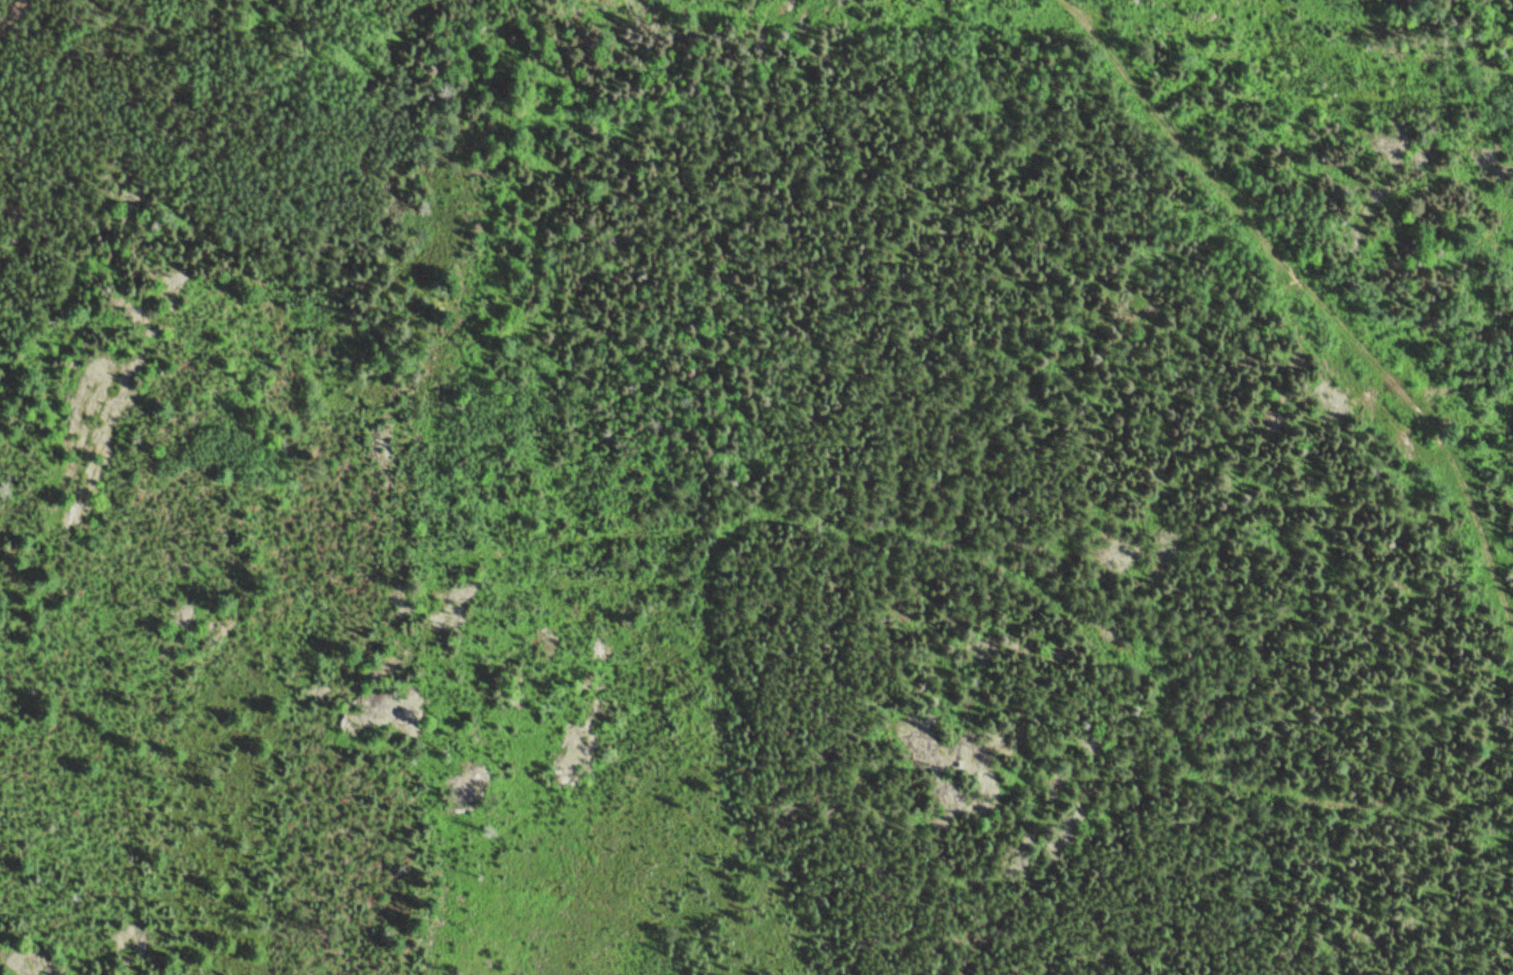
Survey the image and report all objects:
road: (11, 12)

